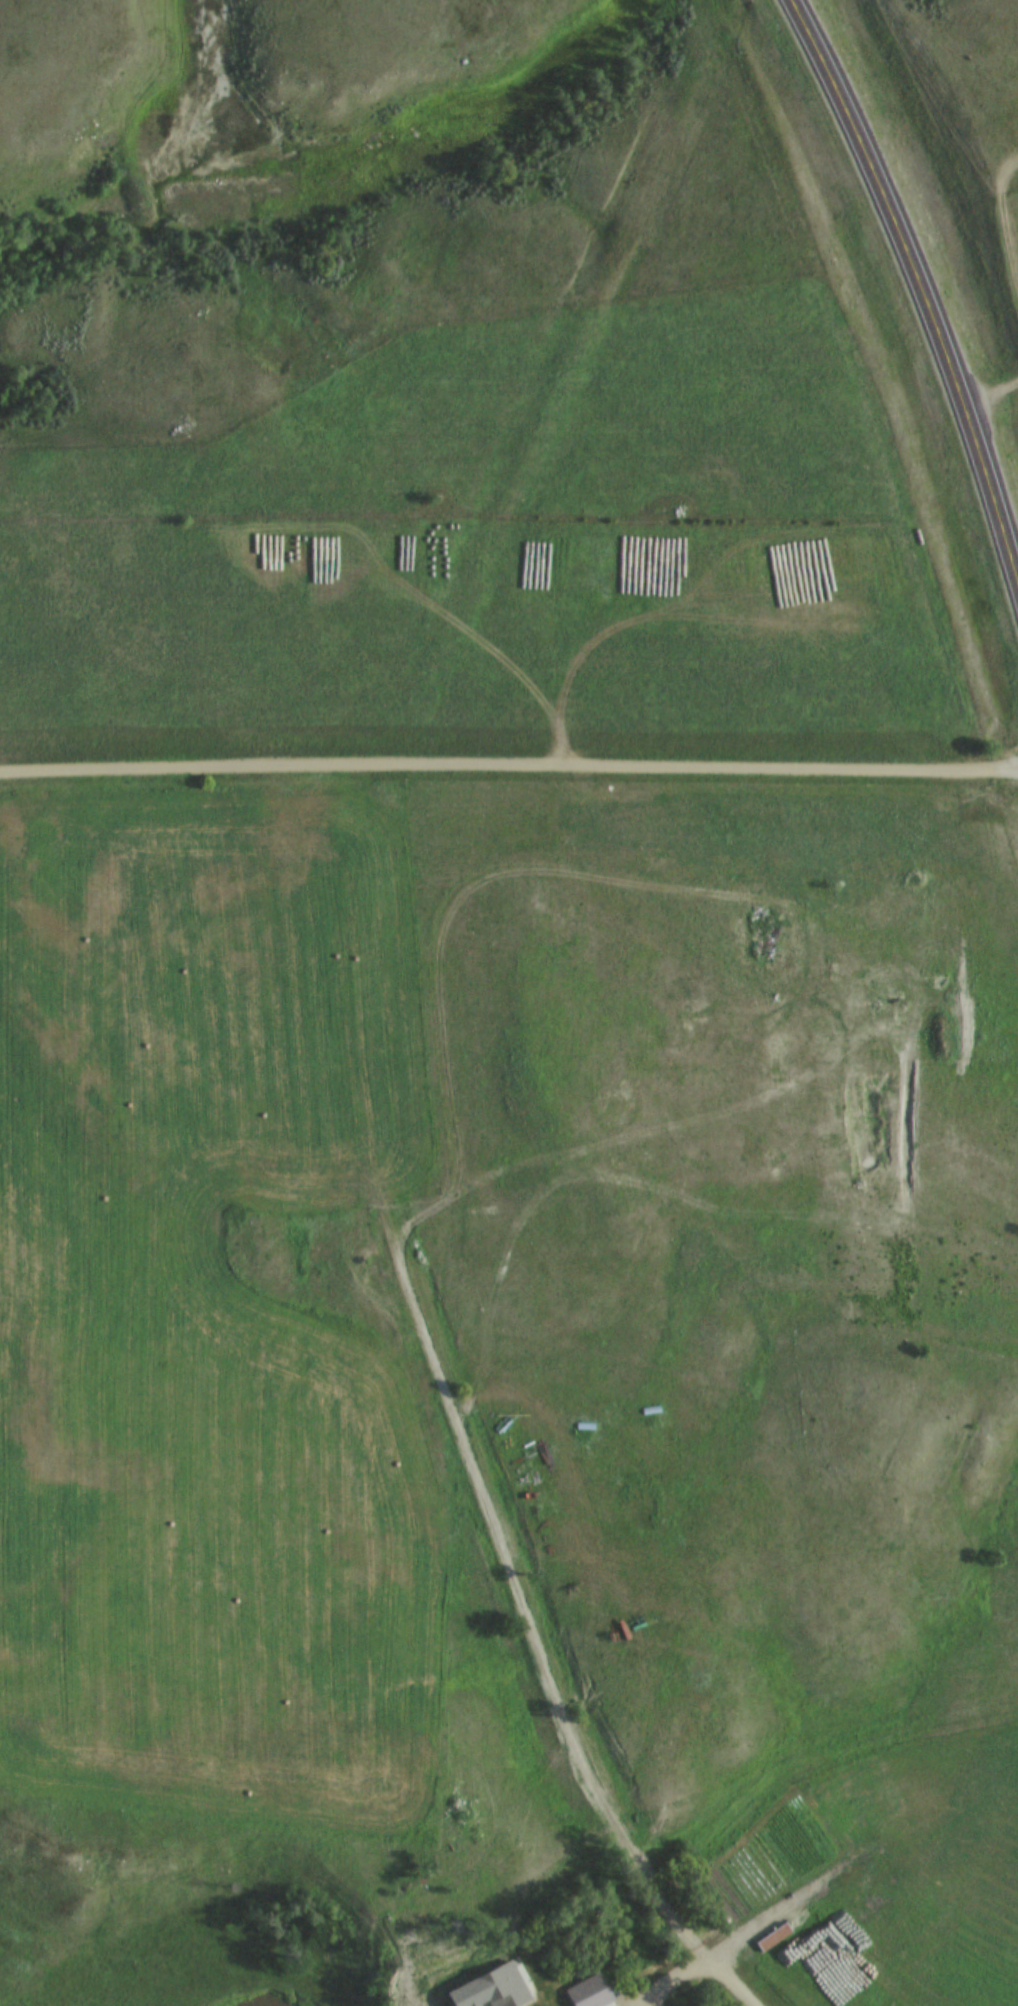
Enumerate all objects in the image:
road: (919, 279)
road: (509, 767)
quarry: (859, 1007)
road: (535, 1609)
road: (727, 1981)
road: (676, 1983)

